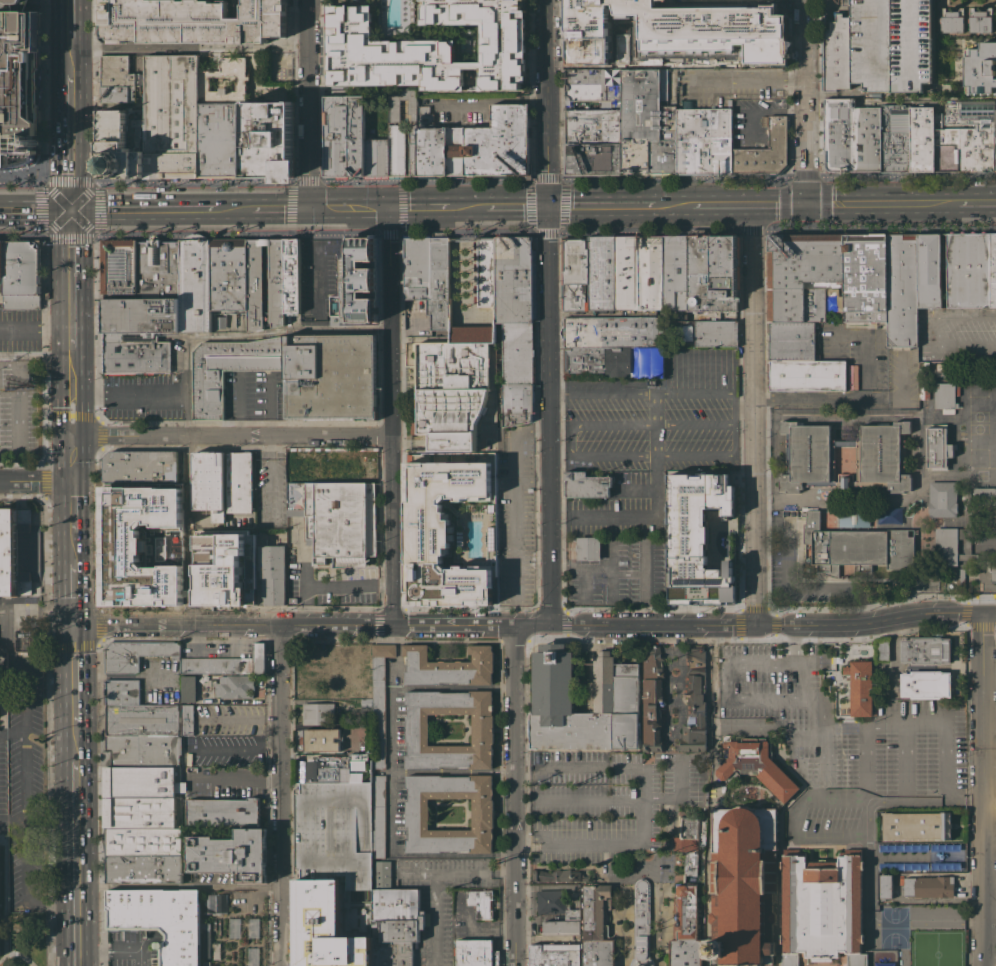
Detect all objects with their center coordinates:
road: (67, 18)
building: (952, 20)
building: (980, 20)
building: (192, 21)
road: (68, 41)
road: (188, 46)
building: (428, 46)
building: (879, 46)
road: (68, 51)
road: (68, 64)
building: (980, 68)
building: (116, 79)
parking lot: (17, 81)
road: (749, 81)
building: (18, 84)
building: (594, 85)
road: (945, 98)
road: (492, 99)
road: (806, 102)
road: (309, 104)
building: (172, 116)
building: (222, 121)
building: (763, 121)
building: (646, 126)
building: (343, 136)
building: (851, 136)
building: (894, 137)
building: (922, 138)
building: (995, 139)
building: (270, 140)
building: (704, 140)
road: (68, 142)
building: (123, 142)
building: (465, 142)
building: (592, 142)
building: (963, 143)
building: (766, 151)
building: (385, 154)
road: (906, 173)
road: (804, 174)
road: (444, 180)
road: (69, 182)
road: (20, 183)
road: (875, 204)
road: (401, 205)
road: (705, 205)
traffic signals: (806, 205)
road: (603, 206)
road: (435, 207)
road: (517, 207)
traffic signals: (550, 207)
road: (41, 208)
traffic signals: (69, 208)
road: (97, 208)
road: (348, 208)
traffic signals: (387, 208)
road: (189, 209)
traffic signals: (309, 209)
road: (34, 210)
traffic signals: (69, 210)
road: (546, 230)
road: (21, 235)
road: (70, 235)
building: (1, 260)
building: (574, 260)
building: (699, 263)
road: (316, 265)
building: (724, 265)
road: (69, 267)
building: (416, 267)
building: (158, 268)
building: (119, 269)
building: (968, 269)
building: (928, 270)
building: (943, 270)
building: (993, 270)
building: (486, 272)
building: (674, 272)
building: (227, 273)
building: (601, 273)
building: (626, 273)
building: (649, 273)
building: (21, 274)
building: (291, 276)
building: (254, 277)
building: (865, 277)
building: (804, 278)
building: (515, 279)
building: (439, 281)
building: (194, 283)
building: (359, 283)
building: (902, 289)
building: (573, 296)
building: (712, 303)
road: (550, 312)
building: (141, 315)
building: (219, 321)
road: (34, 325)
parking lot: (19, 329)
building: (611, 331)
road: (962, 332)
building: (715, 333)
parking lot: (958, 335)
building: (130, 337)
road: (69, 341)
road: (34, 356)
building: (136, 357)
building: (668, 357)
building: (599, 360)
building: (800, 360)
building: (925, 364)
building: (229, 369)
building: (944, 370)
building: (517, 371)
road: (69, 375)
building: (852, 376)
building: (330, 377)
building: (452, 387)
parking lot: (152, 390)
road: (127, 392)
road: (185, 393)
road: (654, 394)
building: (945, 395)
road: (846, 396)
road: (238, 405)
parking lot: (20, 412)
road: (69, 414)
road: (756, 414)
road: (390, 416)
road: (695, 423)
road: (230, 436)
road: (571, 439)
building: (937, 447)
building: (810, 452)
road: (722, 455)
road: (70, 458)
building: (140, 465)
building: (298, 466)
building: (346, 466)
road: (35, 480)
building: (239, 481)
building: (209, 483)
power substation: (209, 483)
building: (587, 484)
building: (984, 496)
building: (942, 499)
road: (655, 500)
building: (173, 518)
building: (337, 519)
road: (517, 521)
building: (449, 531)
building: (698, 538)
building: (954, 539)
building: (129, 541)
building: (985, 541)
building: (856, 543)
building: (588, 548)
building: (13, 551)
road: (70, 551)
building: (316, 553)
parking lot: (618, 564)
building: (993, 572)
building: (271, 573)
building: (961, 576)
road: (330, 586)
road: (791, 588)
road: (981, 591)
building: (152, 593)
building: (292, 600)
road: (518, 613)
traffic signals: (980, 613)
road: (988, 613)
traffic signals: (71, 622)
road: (525, 624)
building: (20, 641)
road: (721, 642)
building: (883, 649)
building: (925, 650)
building: (134, 655)
building: (34, 659)
building: (227, 663)
building: (448, 666)
building: (315, 670)
building: (214, 676)
building: (351, 677)
building: (925, 684)
building: (235, 686)
building: (860, 686)
building: (188, 688)
building: (122, 691)
building: (652, 697)
building: (615, 698)
road: (723, 698)
building: (379, 700)
building: (694, 702)
building: (366, 704)
building: (317, 713)
building: (148, 719)
road: (11, 724)
road: (884, 724)
building: (416, 729)
park: (896, 734)
building: (322, 740)
road: (240, 749)
building: (140, 750)
building: (751, 762)
road: (899, 762)
road: (944, 762)
road: (864, 765)
road: (522, 768)
road: (586, 768)
building: (334, 769)
road: (391, 770)
road: (453, 771)
road: (239, 783)
road: (980, 789)
building: (787, 791)
road: (72, 793)
road: (283, 794)
road: (515, 794)
road: (678, 794)
building: (136, 796)
road: (883, 800)
road: (940, 800)
road: (585, 801)
road: (522, 804)
building: (223, 811)
building: (416, 814)
building: (378, 815)
road: (795, 818)
road: (11, 820)
building: (916, 825)
road: (23, 834)
building: (690, 842)
road: (630, 843)
building: (144, 855)
building: (231, 855)
building: (331, 868)
road: (457, 872)
building: (382, 874)
building: (557, 875)
road: (543, 886)
building: (742, 886)
building: (884, 886)
building: (928, 886)
building: (219, 903)
building: (480, 903)
building: (822, 908)
building: (557, 912)
road: (867, 916)
road: (435, 919)
building: (160, 920)
building: (422, 920)
building: (641, 924)
building: (394, 926)
building: (596, 926)
building: (234, 927)
building: (252, 927)
building: (685, 927)
road: (988, 932)
building: (205, 943)
road: (115, 949)
building: (216, 950)
building: (475, 952)
building: (555, 955)
building: (252, 956)

